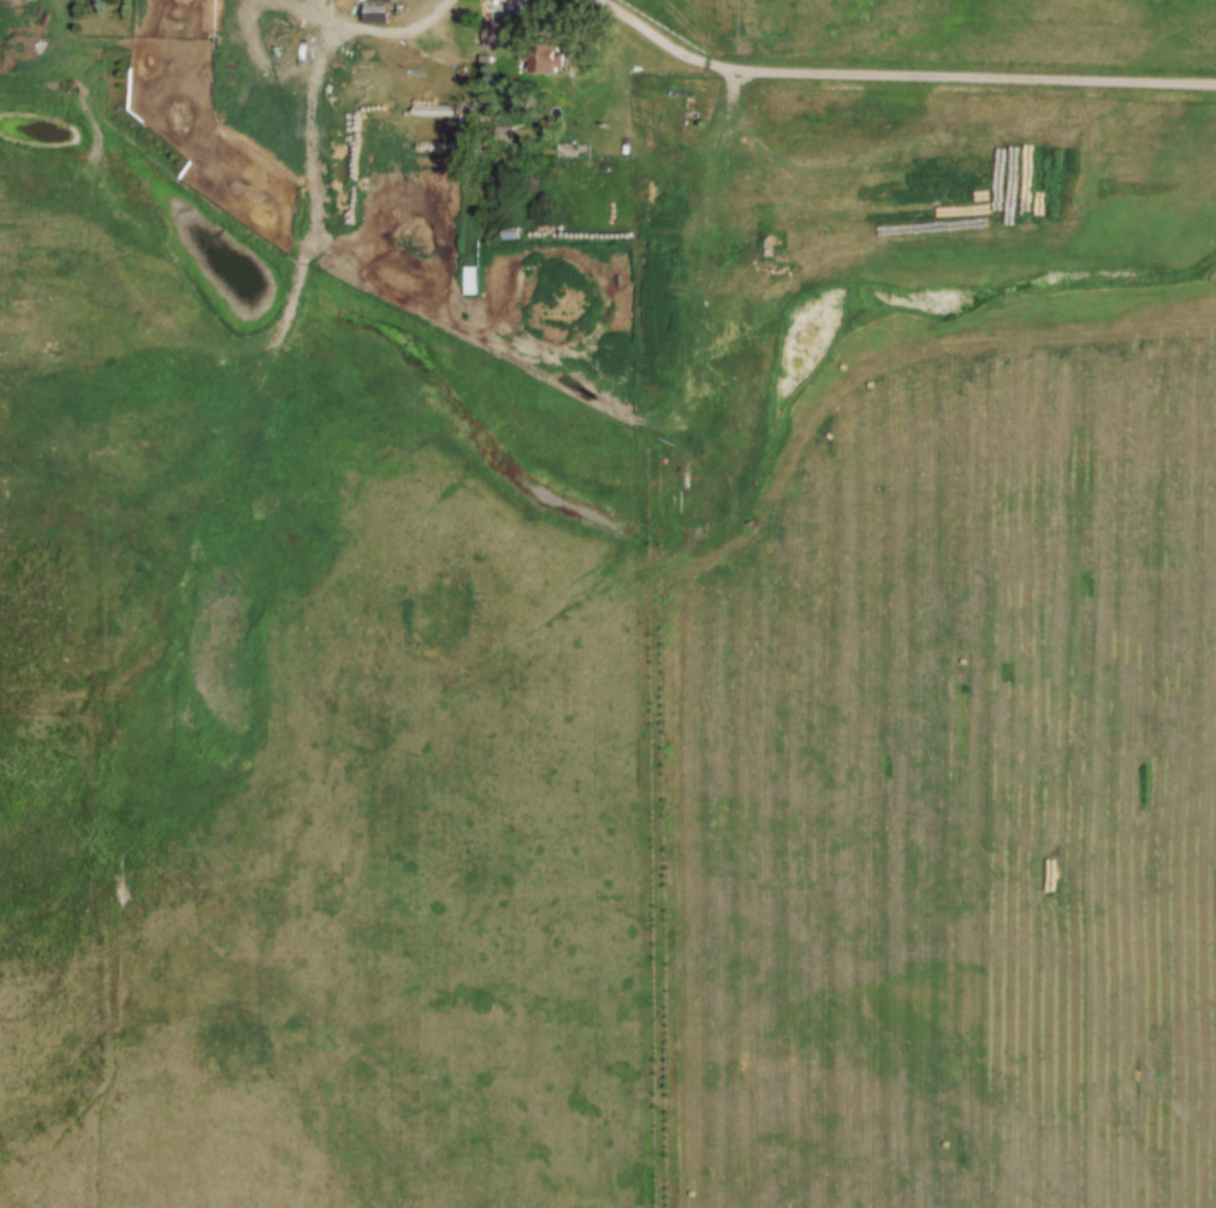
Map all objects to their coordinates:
road: (504, 16)
building: (499, 34)
building: (541, 58)
road: (900, 73)
building: (508, 233)
building: (468, 280)

